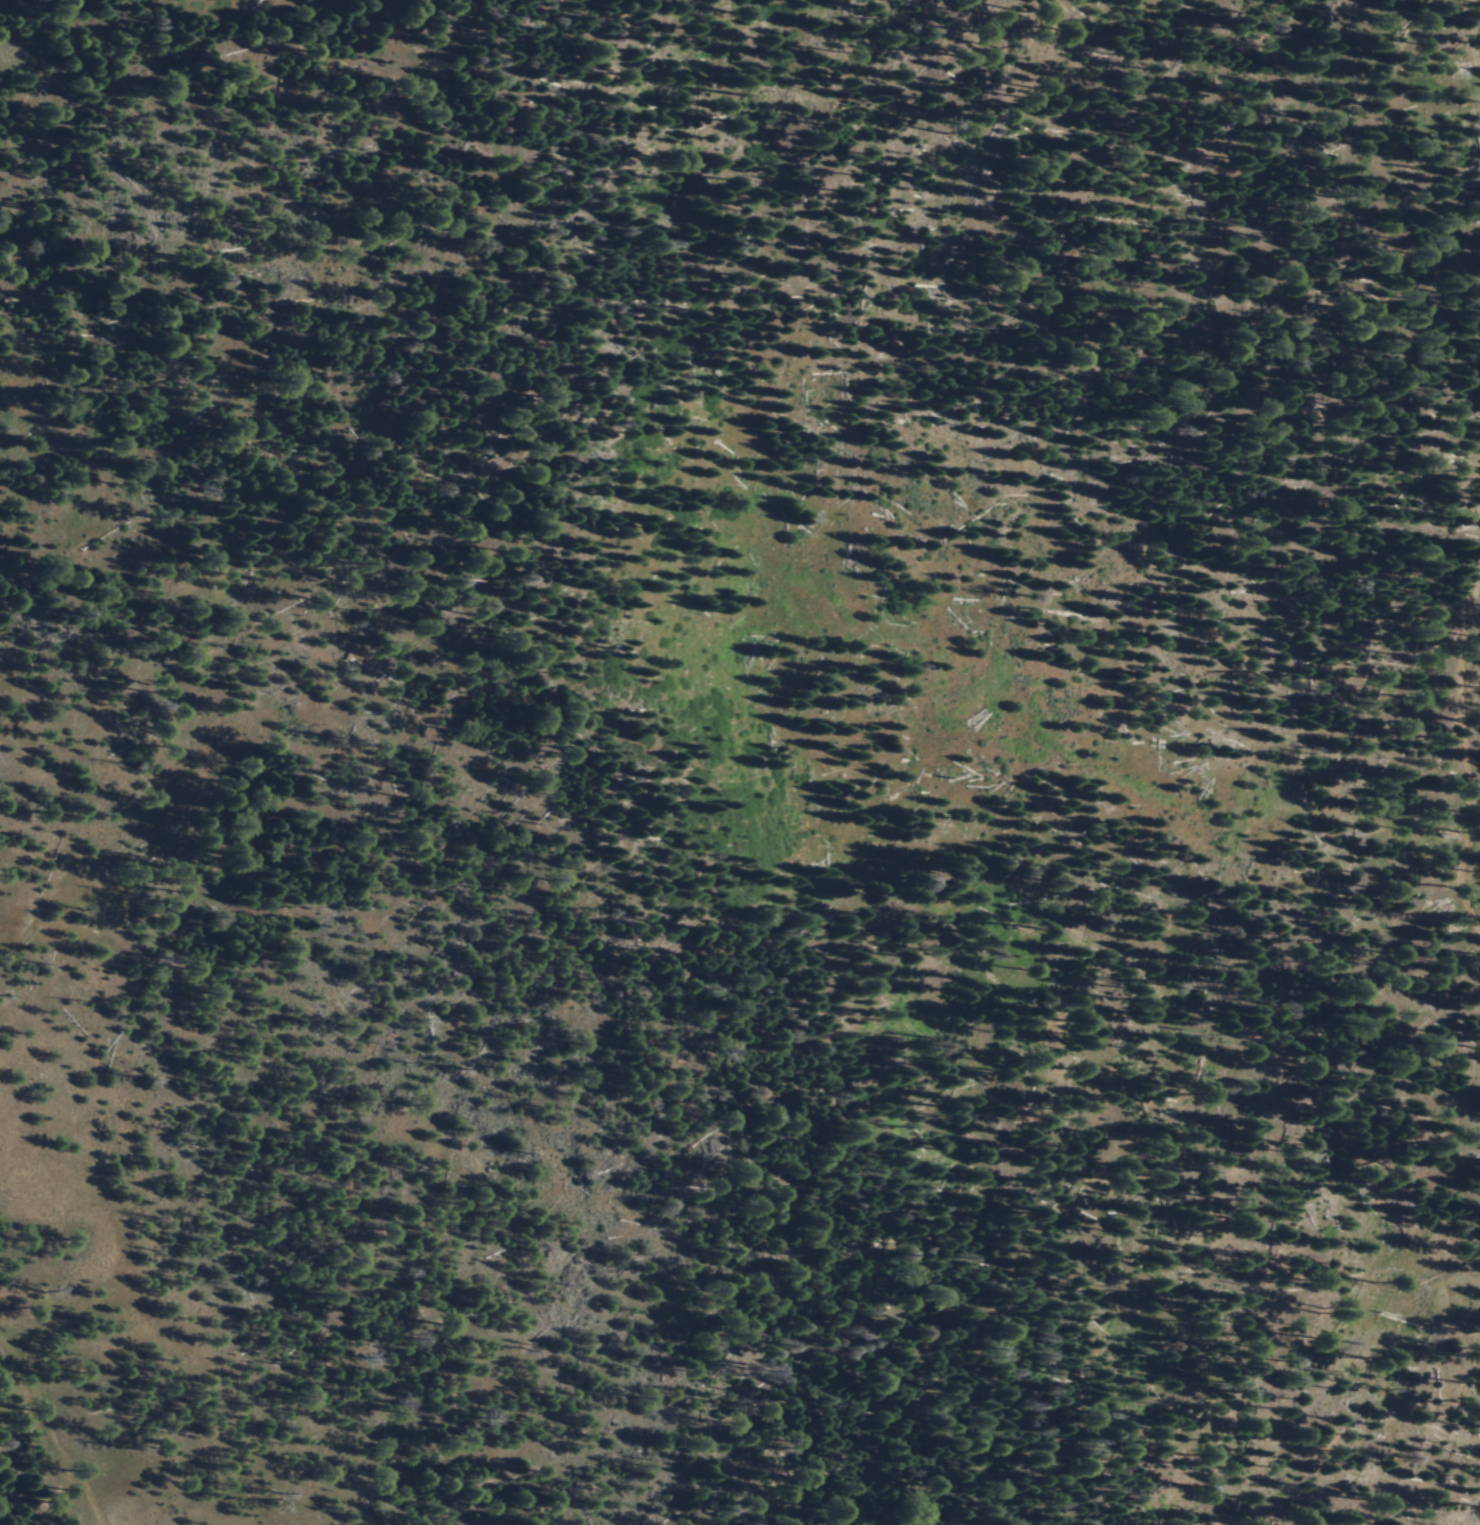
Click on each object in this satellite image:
road: (1470, 33)
road: (1474, 818)

